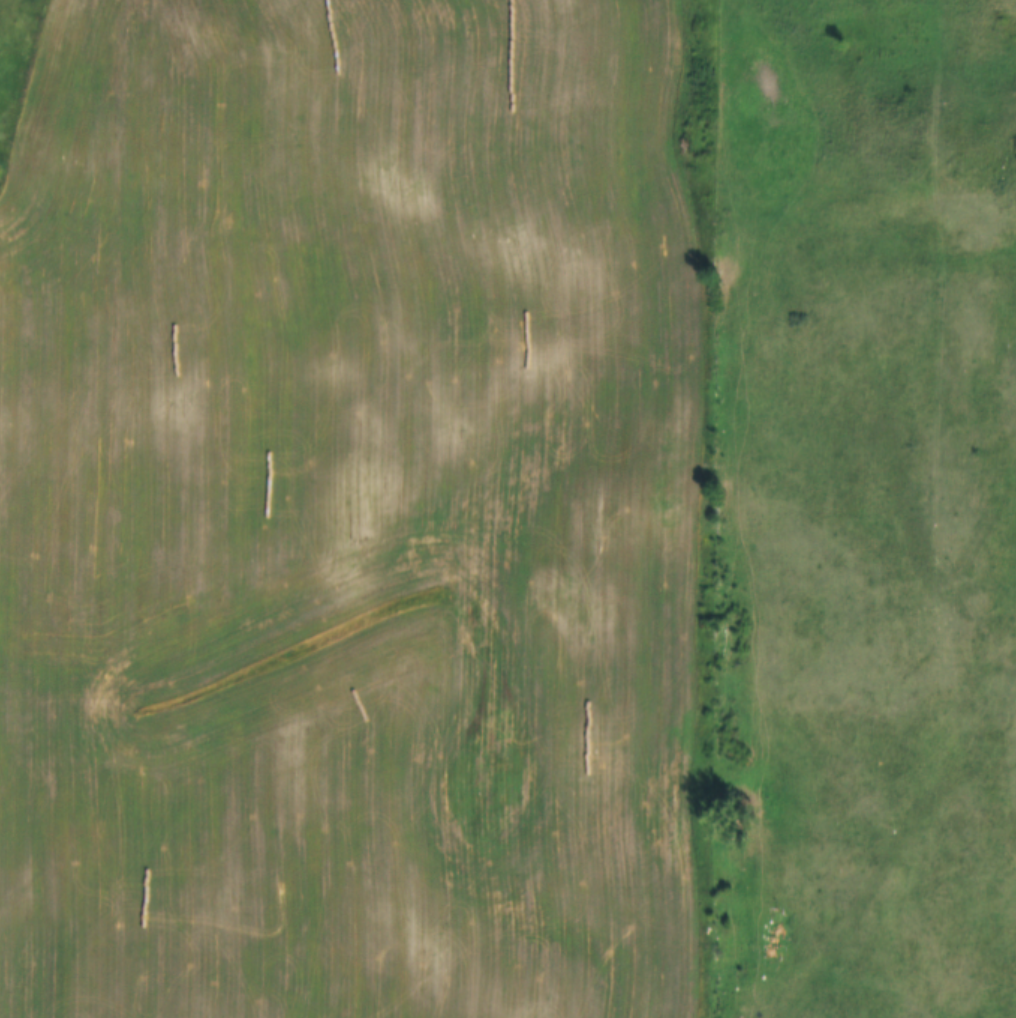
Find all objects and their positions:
building: (781, 932)
building: (772, 934)

